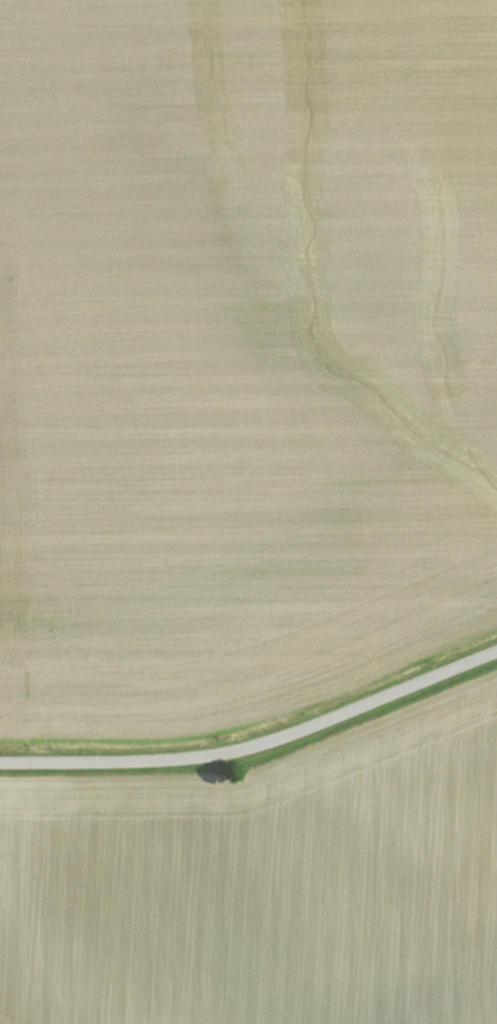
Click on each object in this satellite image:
road: (255, 736)

